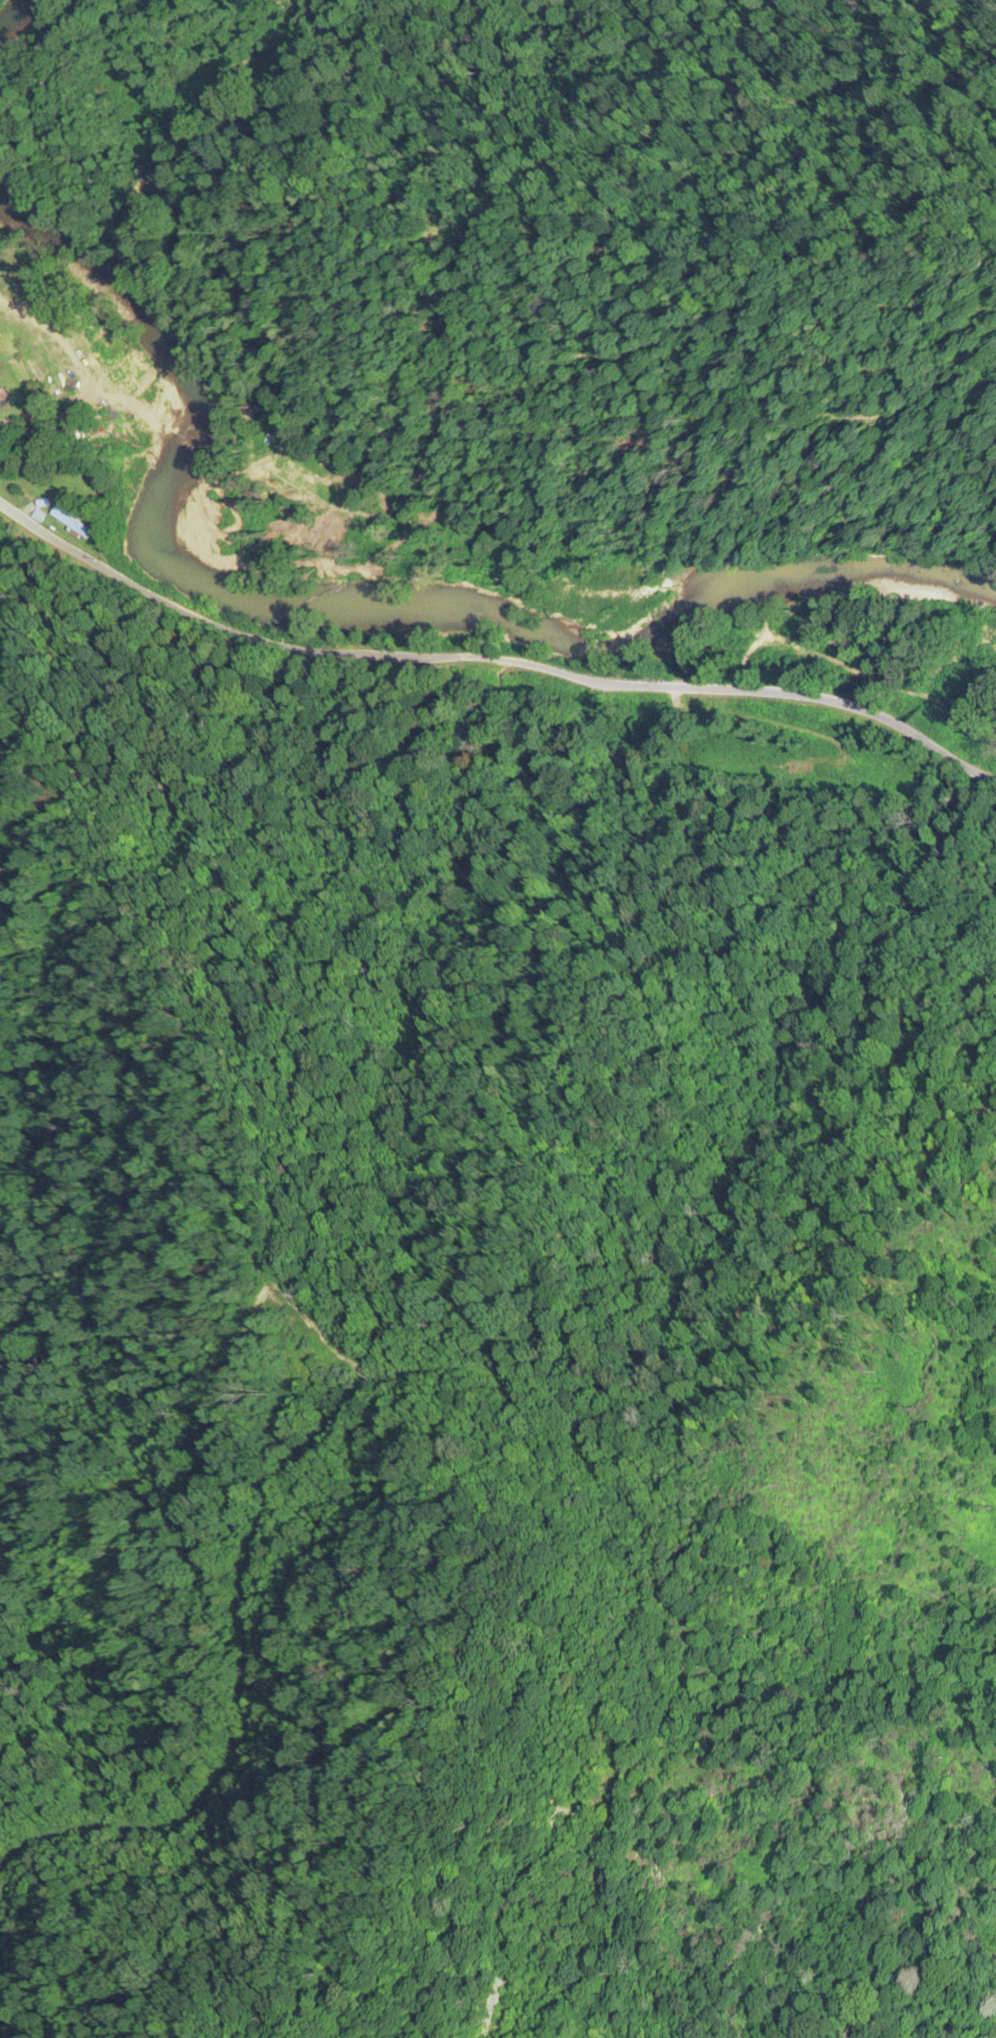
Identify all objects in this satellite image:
river: (15, 16)
building: (33, 483)
building: (72, 524)
river: (342, 604)
road: (487, 660)

